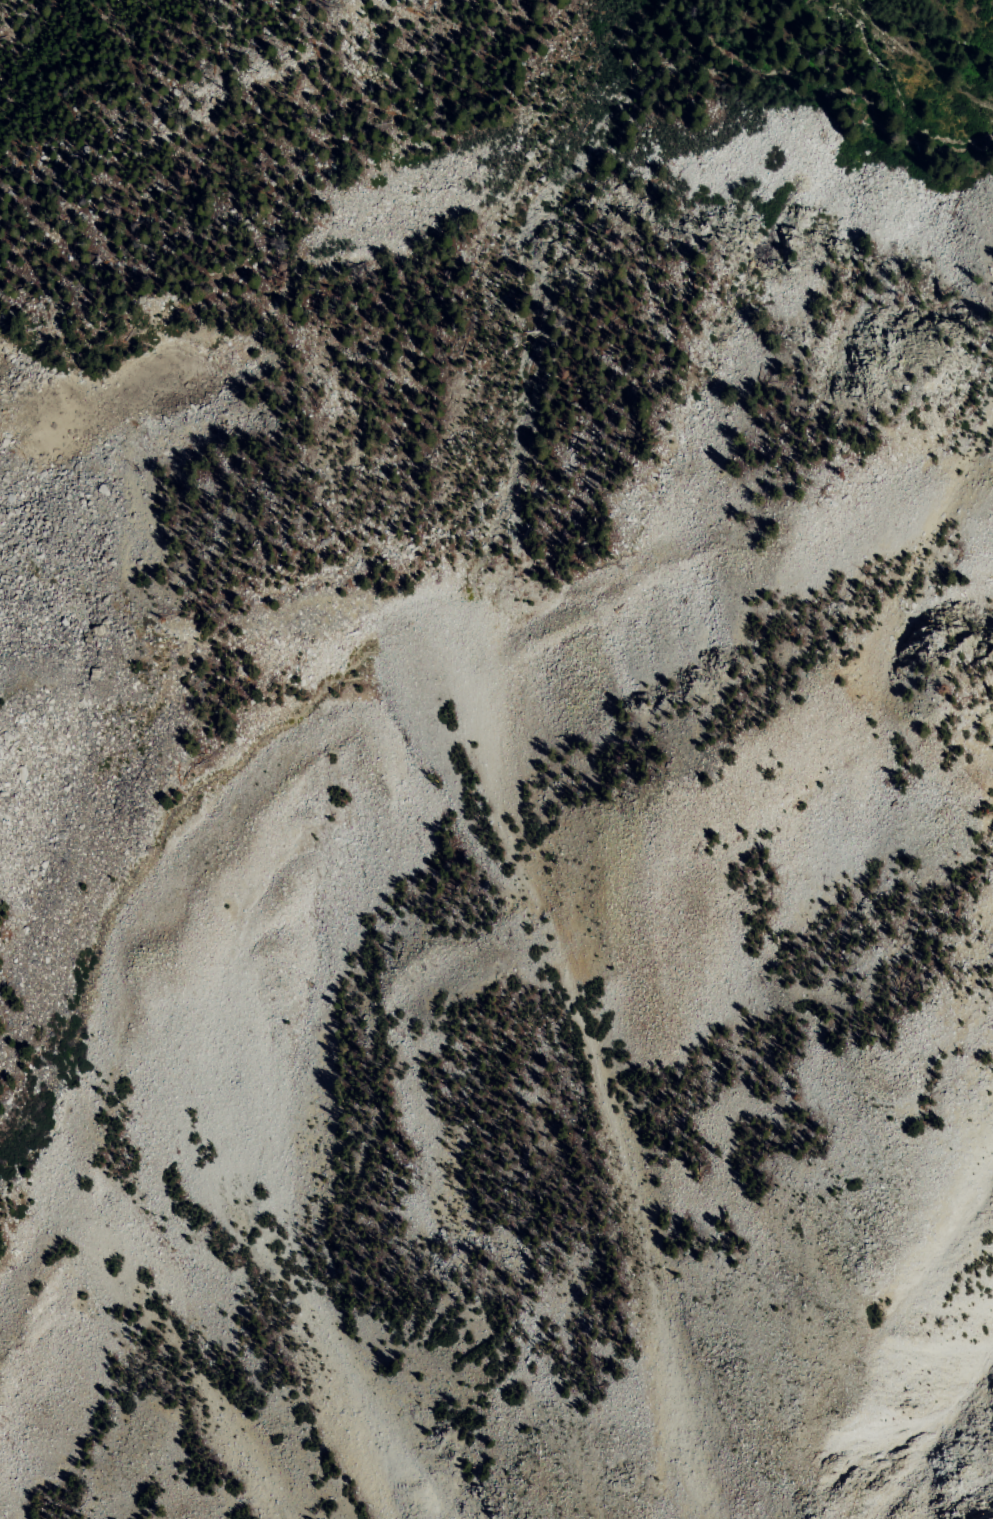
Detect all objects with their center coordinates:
road: (917, 57)

